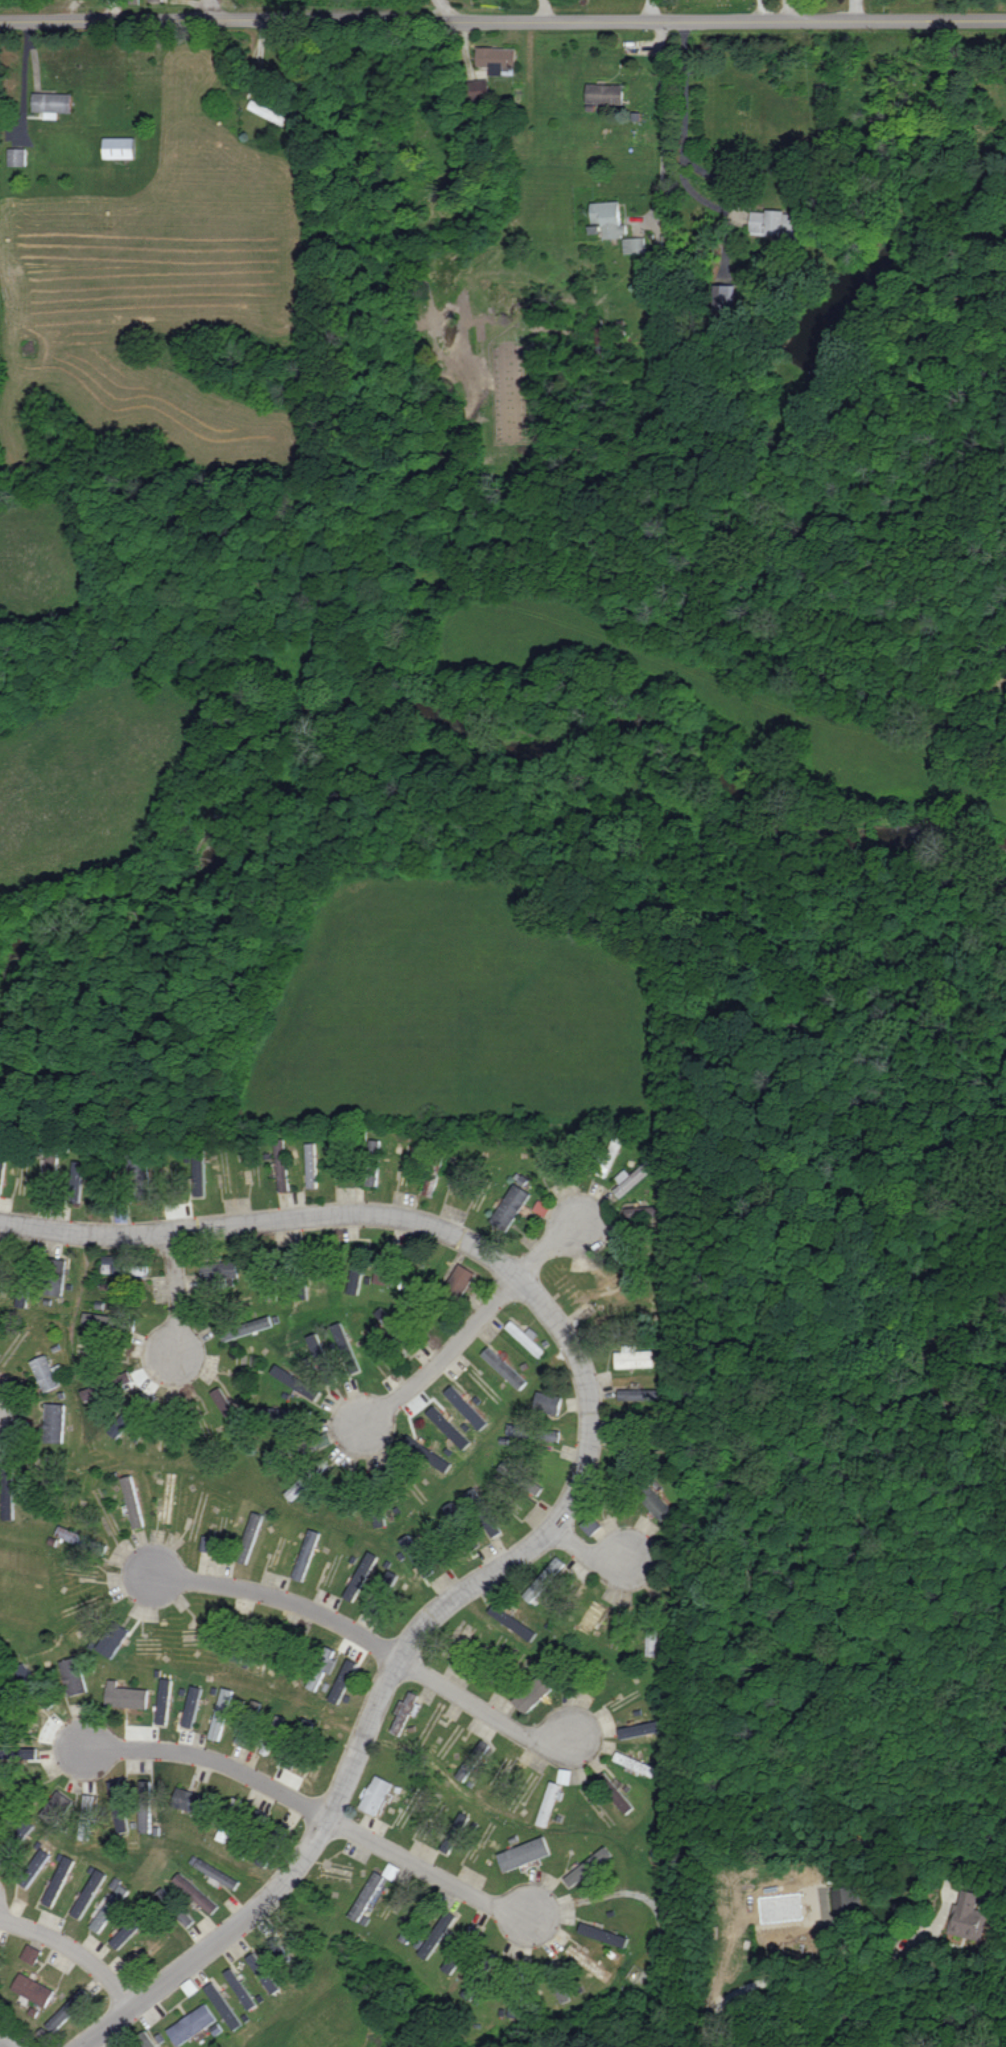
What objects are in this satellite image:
building: (153, 0)
road: (204, 7)
road: (785, 9)
road: (502, 22)
building: (495, 58)
building: (604, 93)
building: (52, 103)
building: (266, 111)
road: (663, 128)
building: (119, 147)
building: (17, 156)
building: (609, 218)
building: (774, 222)
building: (634, 244)
building: (726, 297)
building: (602, 336)
building: (311, 1165)
building: (282, 1166)
building: (49, 1167)
building: (138, 1170)
building: (1, 1173)
building: (199, 1175)
building: (372, 1176)
building: (633, 1176)
building: (431, 1181)
building: (510, 1206)
building: (542, 1207)
building: (647, 1215)
road: (549, 1247)
building: (121, 1266)
building: (220, 1270)
building: (383, 1272)
building: (56, 1276)
building: (461, 1278)
building: (354, 1279)
road: (175, 1294)
building: (385, 1317)
building: (245, 1326)
building: (526, 1337)
building: (346, 1347)
building: (633, 1357)
building: (322, 1358)
road: (442, 1360)
building: (504, 1367)
building: (45, 1372)
building: (296, 1381)
building: (88, 1393)
building: (641, 1394)
building: (547, 1402)
building: (224, 1407)
building: (466, 1407)
building: (55, 1422)
building: (118, 1424)
building: (448, 1426)
building: (533, 1432)
building: (425, 1453)
building: (520, 1477)
road: (582, 1481)
building: (299, 1486)
building: (132, 1501)
building: (8, 1505)
building: (658, 1505)
building: (452, 1511)
building: (590, 1524)
building: (249, 1537)
building: (88, 1542)
building: (306, 1554)
building: (417, 1555)
road: (591, 1556)
building: (361, 1576)
building: (544, 1578)
building: (382, 1596)
building: (512, 1621)
building: (112, 1639)
building: (651, 1640)
road: (373, 1644)
building: (73, 1675)
building: (343, 1680)
building: (315, 1681)
building: (533, 1693)
building: (126, 1696)
building: (164, 1701)
building: (192, 1706)
building: (405, 1711)
building: (221, 1713)
building: (640, 1728)
building: (267, 1744)
building: (18, 1751)
building: (473, 1760)
building: (635, 1763)
building: (116, 1789)
building: (376, 1794)
building: (619, 1798)
building: (547, 1803)
building: (56, 1807)
road: (313, 1808)
building: (86, 1815)
building: (145, 1819)
building: (455, 1832)
building: (524, 1853)
building: (588, 1866)
building: (213, 1871)
building: (57, 1882)
building: (195, 1893)
building: (88, 1894)
building: (164, 1897)
building: (366, 1897)
building: (847, 1900)
building: (108, 1908)
building: (420, 1913)
building: (968, 1916)
building: (187, 1919)
building: (438, 1932)
building: (125, 1933)
building: (407, 1933)
building: (603, 1934)
building: (471, 1936)
building: (279, 1947)
road: (77, 1950)
building: (31, 1954)
building: (451, 1964)
building: (263, 1972)
road: (810, 1977)
building: (240, 1988)
building: (472, 1988)
building: (33, 1989)
building: (559, 1995)
building: (223, 2005)
building: (515, 2007)
building: (67, 2009)
building: (191, 2024)
road: (4, 2043)

